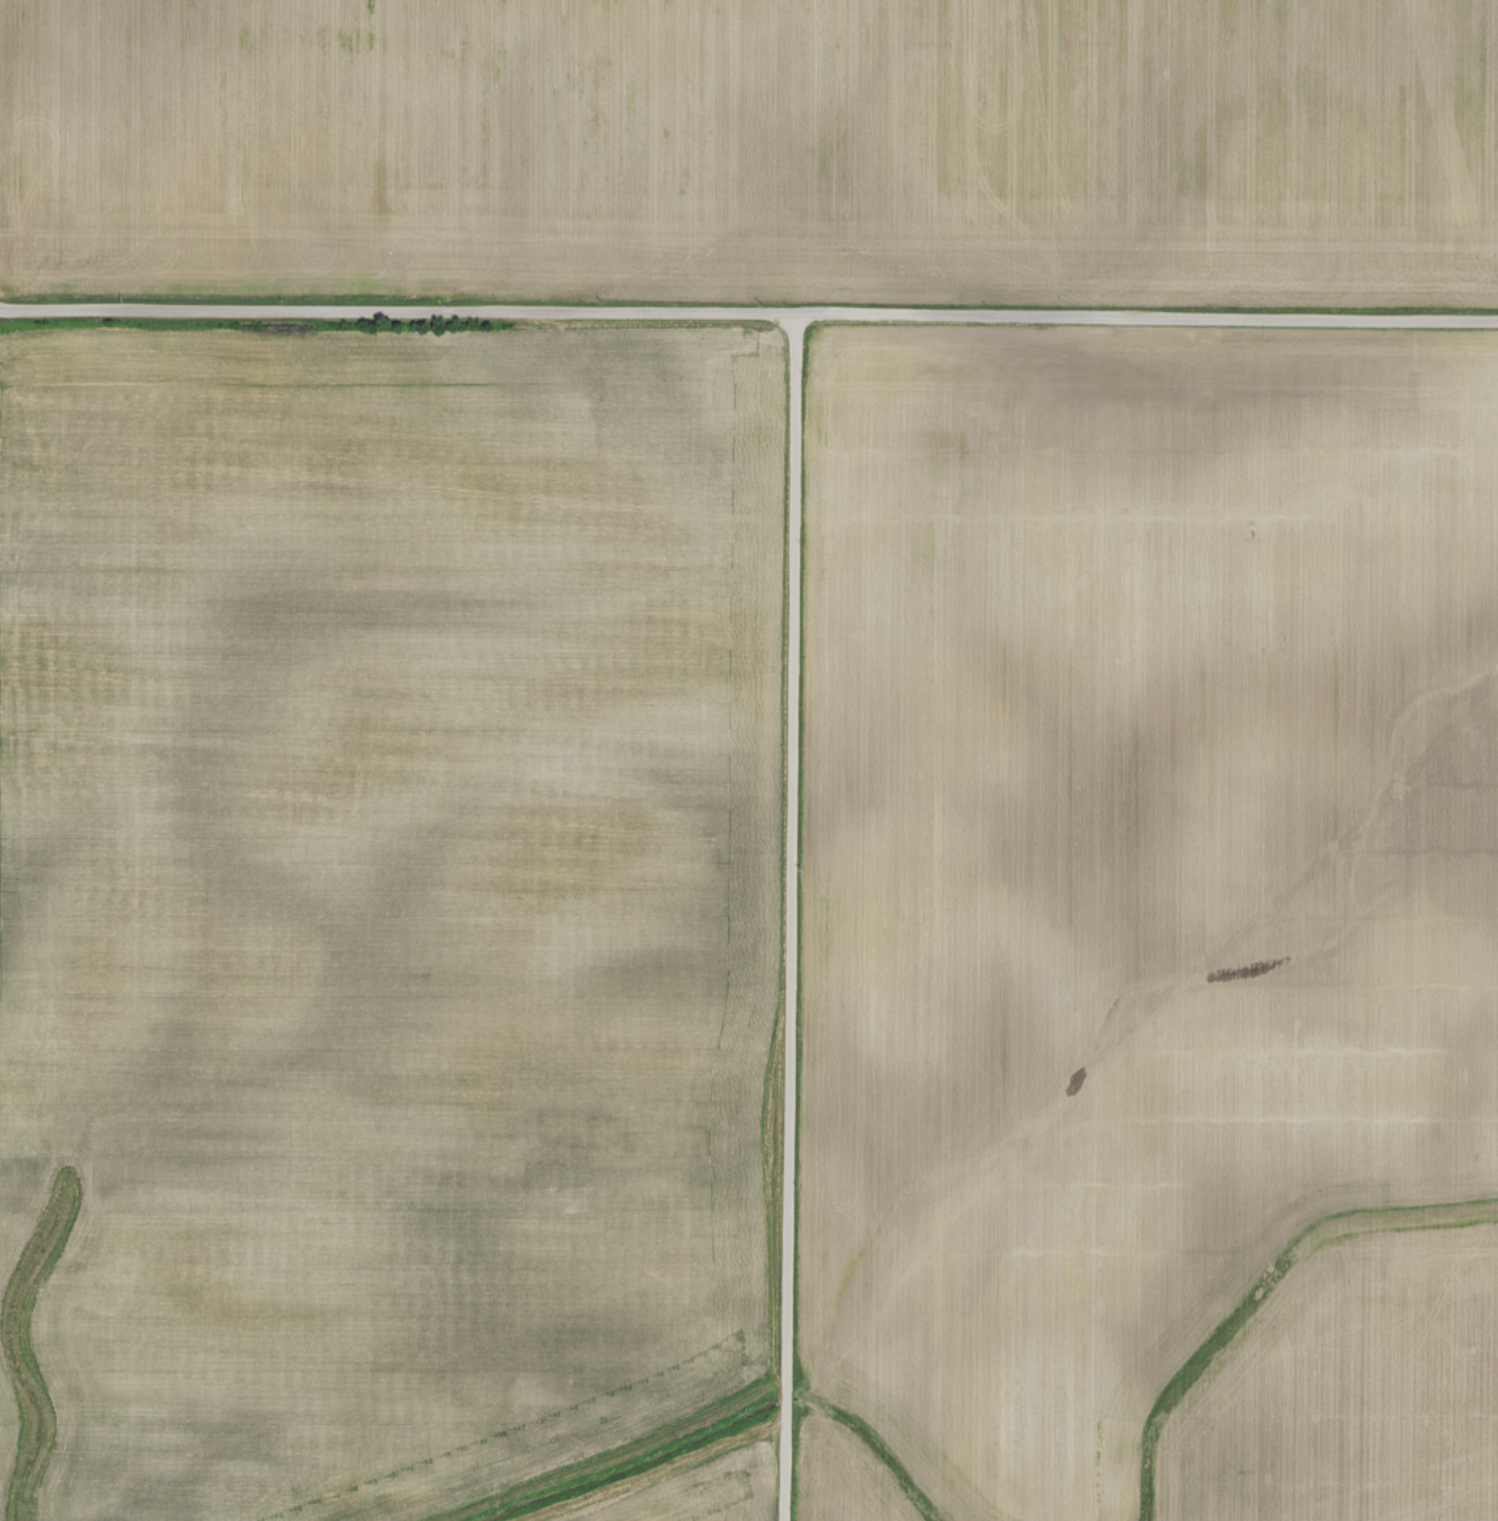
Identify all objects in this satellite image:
road: (749, 312)
road: (791, 916)

